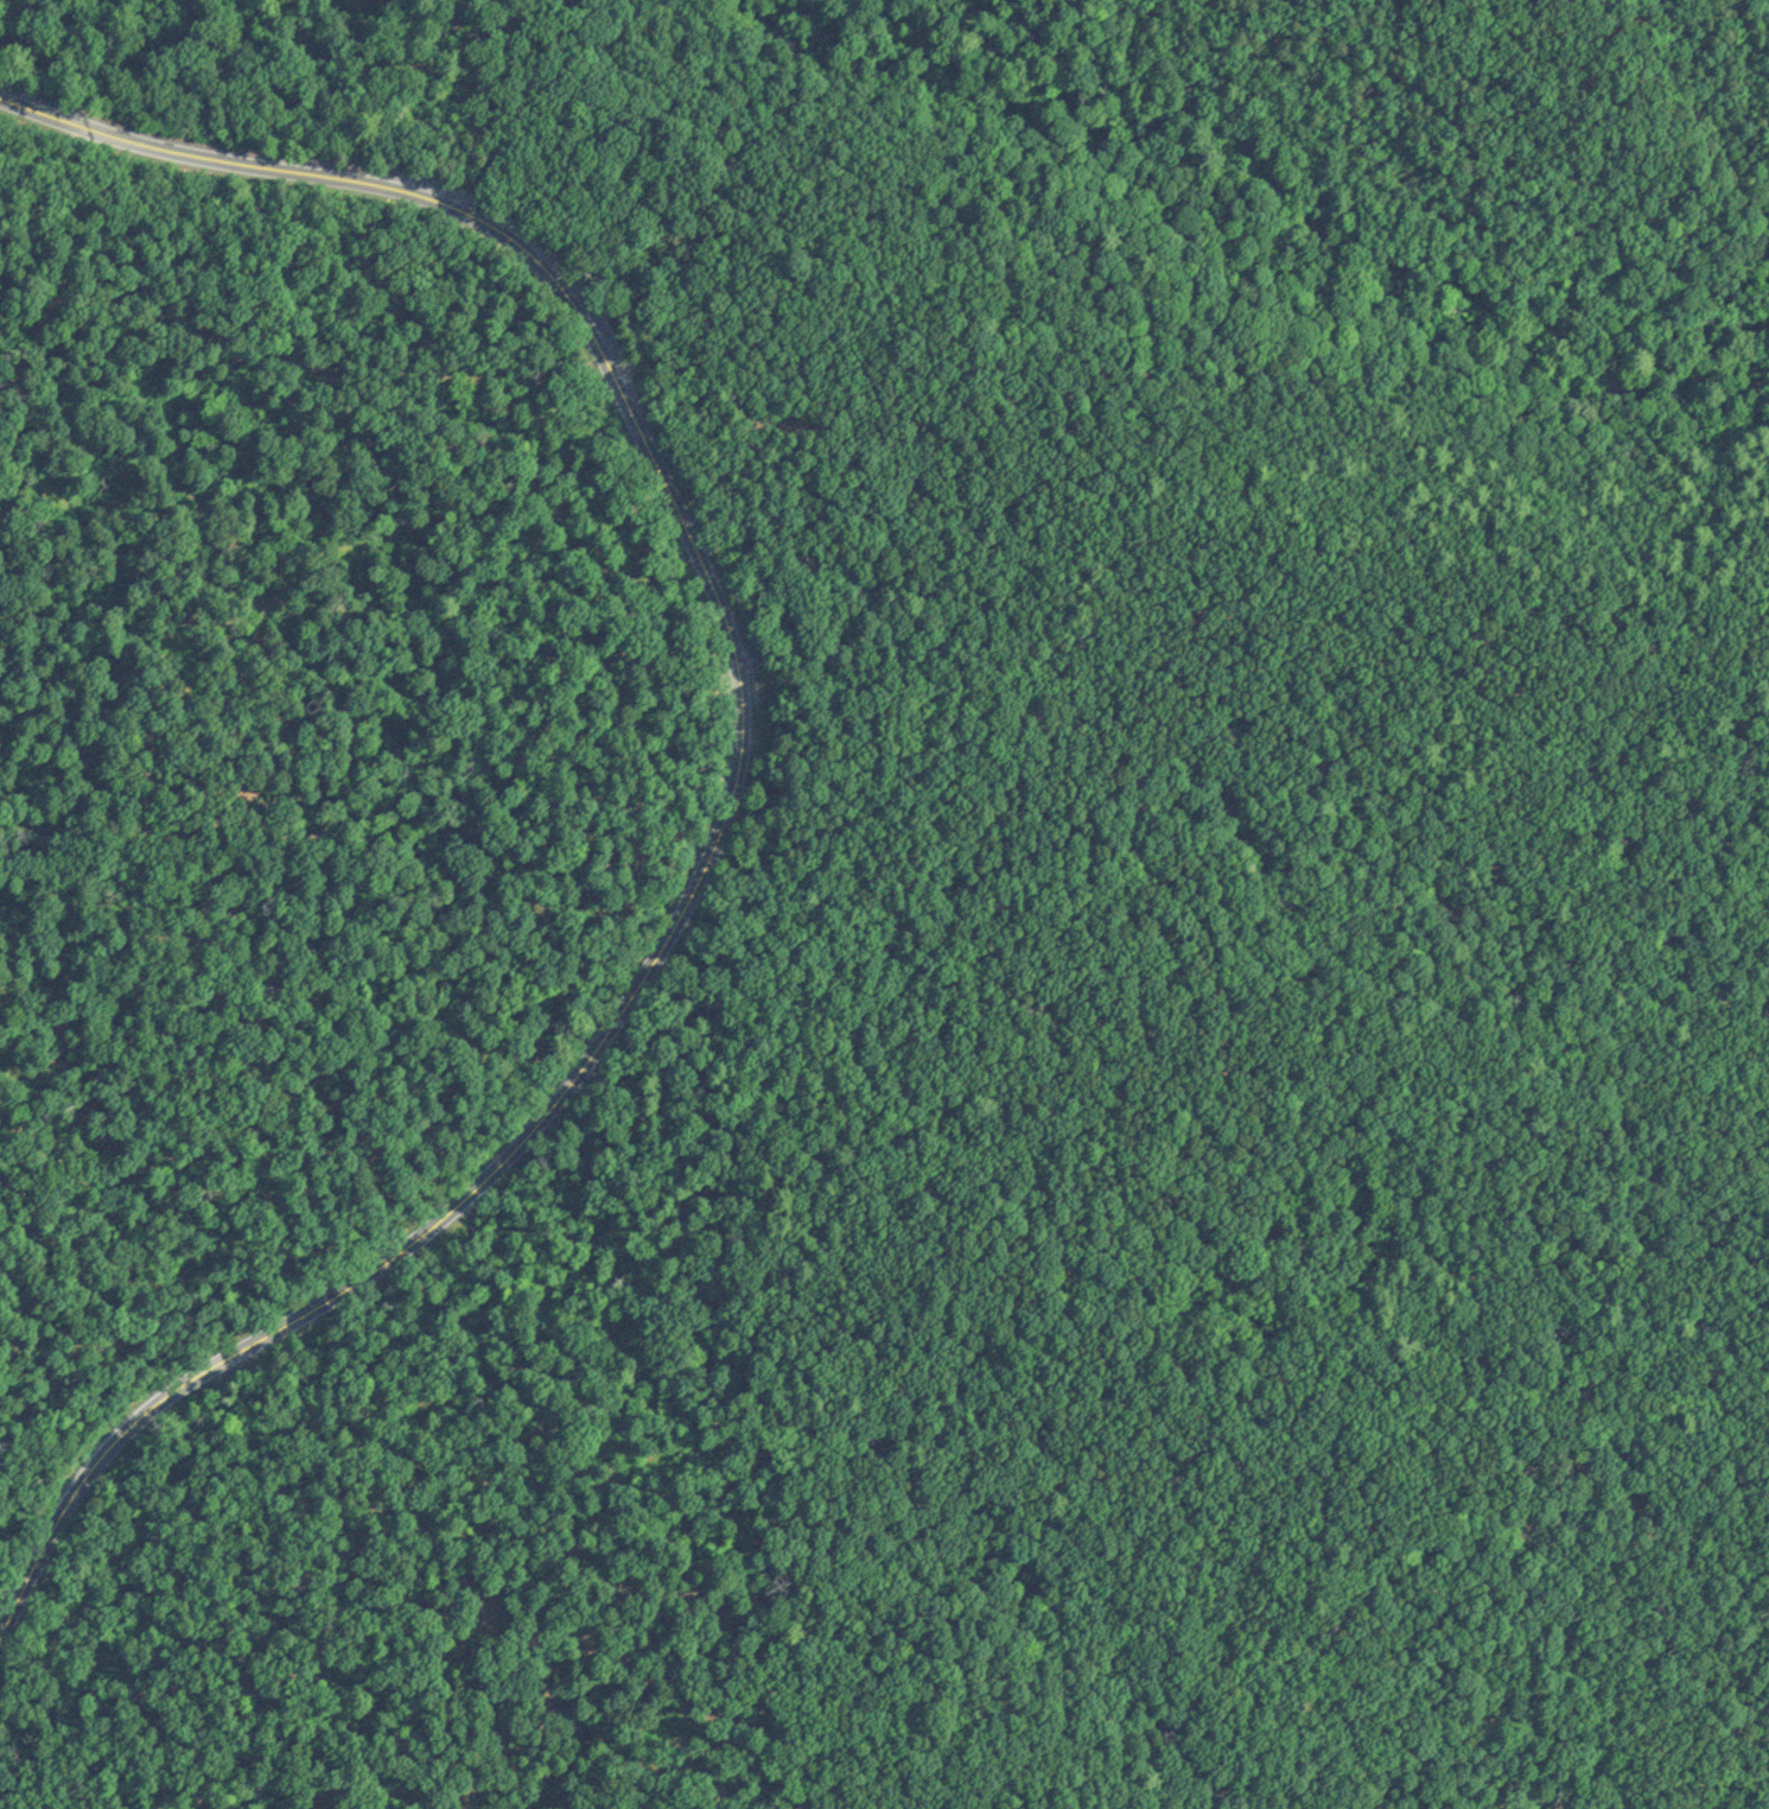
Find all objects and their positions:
road: (732, 793)

